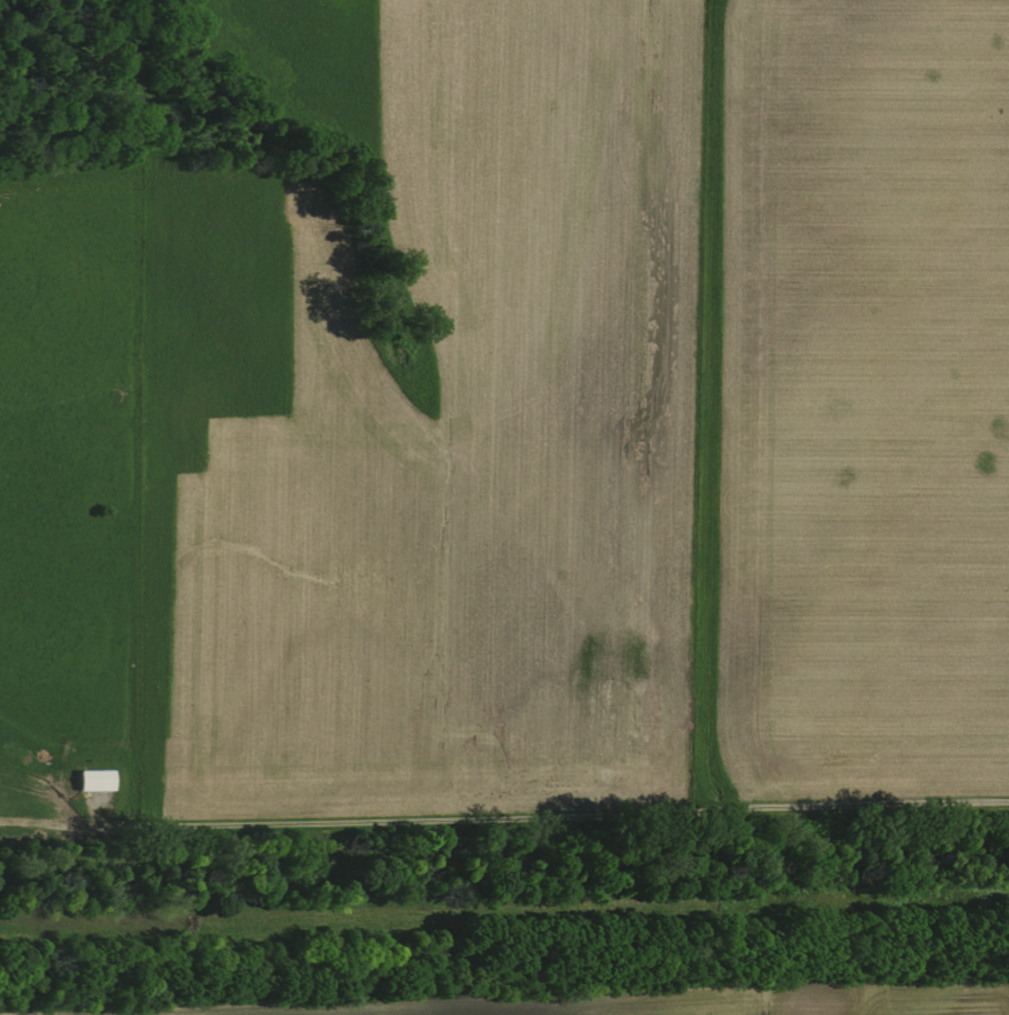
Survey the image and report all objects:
building: (92, 780)

